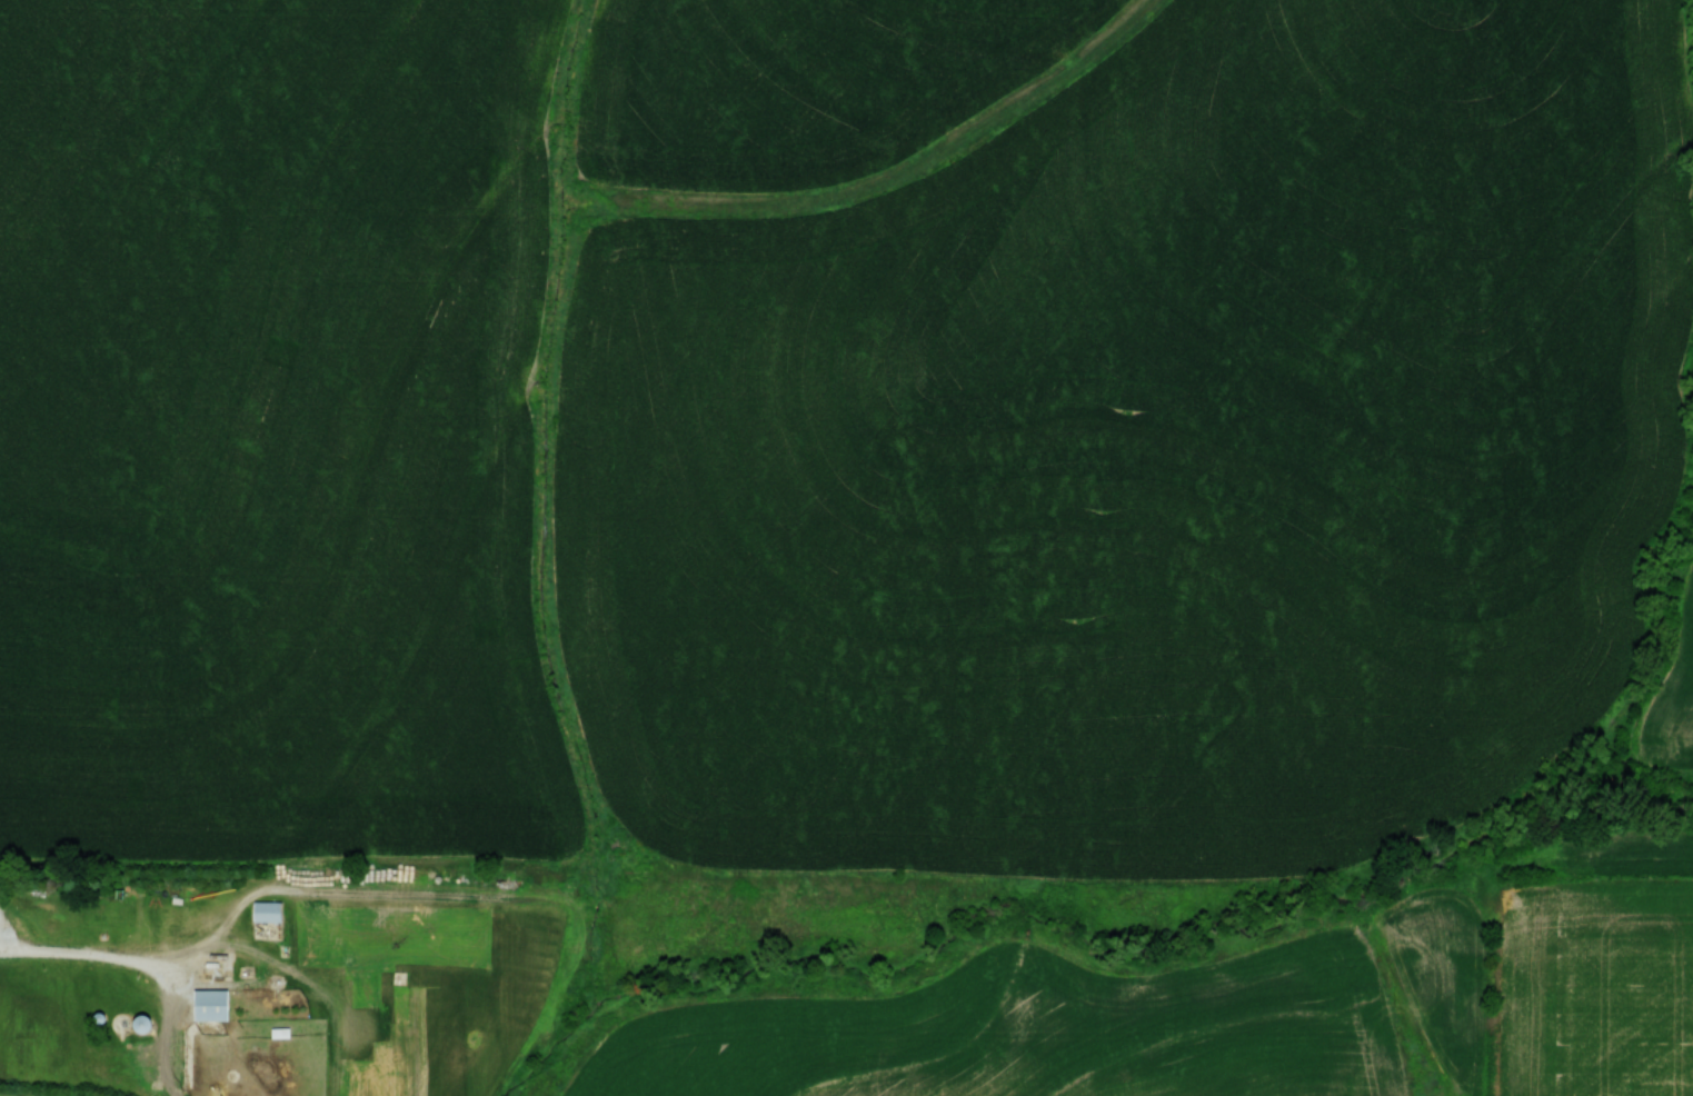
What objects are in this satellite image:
building: (265, 910)
road: (114, 958)
building: (207, 1004)
building: (136, 1023)

